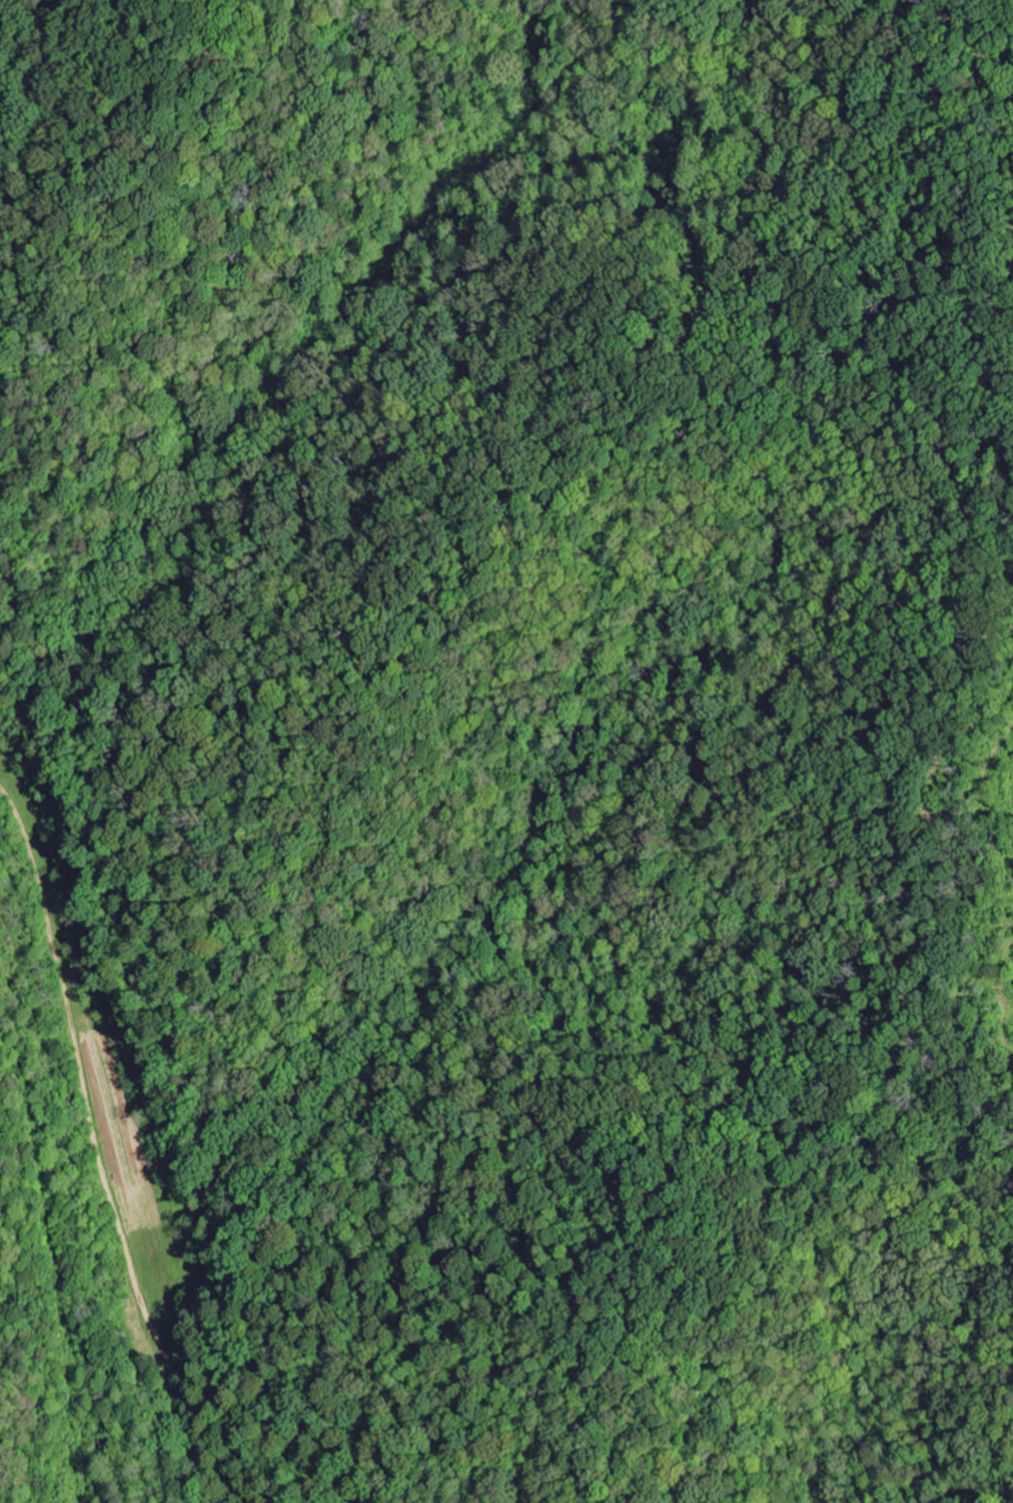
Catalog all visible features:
road: (94, 1153)

